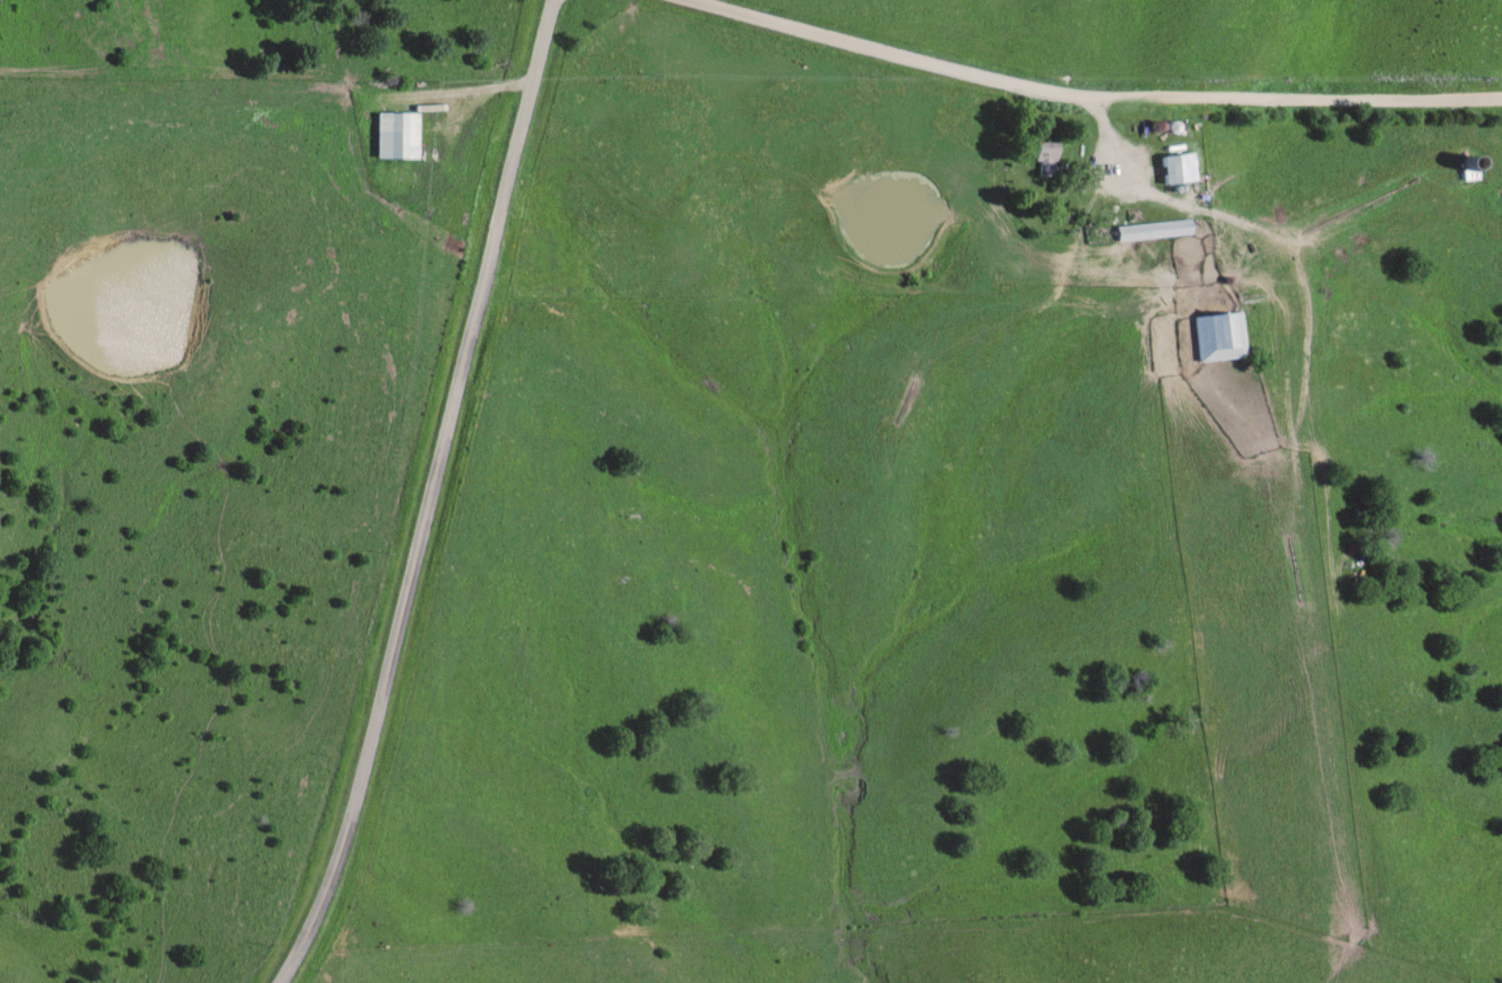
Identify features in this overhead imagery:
road: (1078, 101)
building: (392, 137)
building: (1044, 158)
building: (1171, 170)
building: (1462, 170)
building: (1149, 231)
building: (1218, 338)
road: (426, 495)

